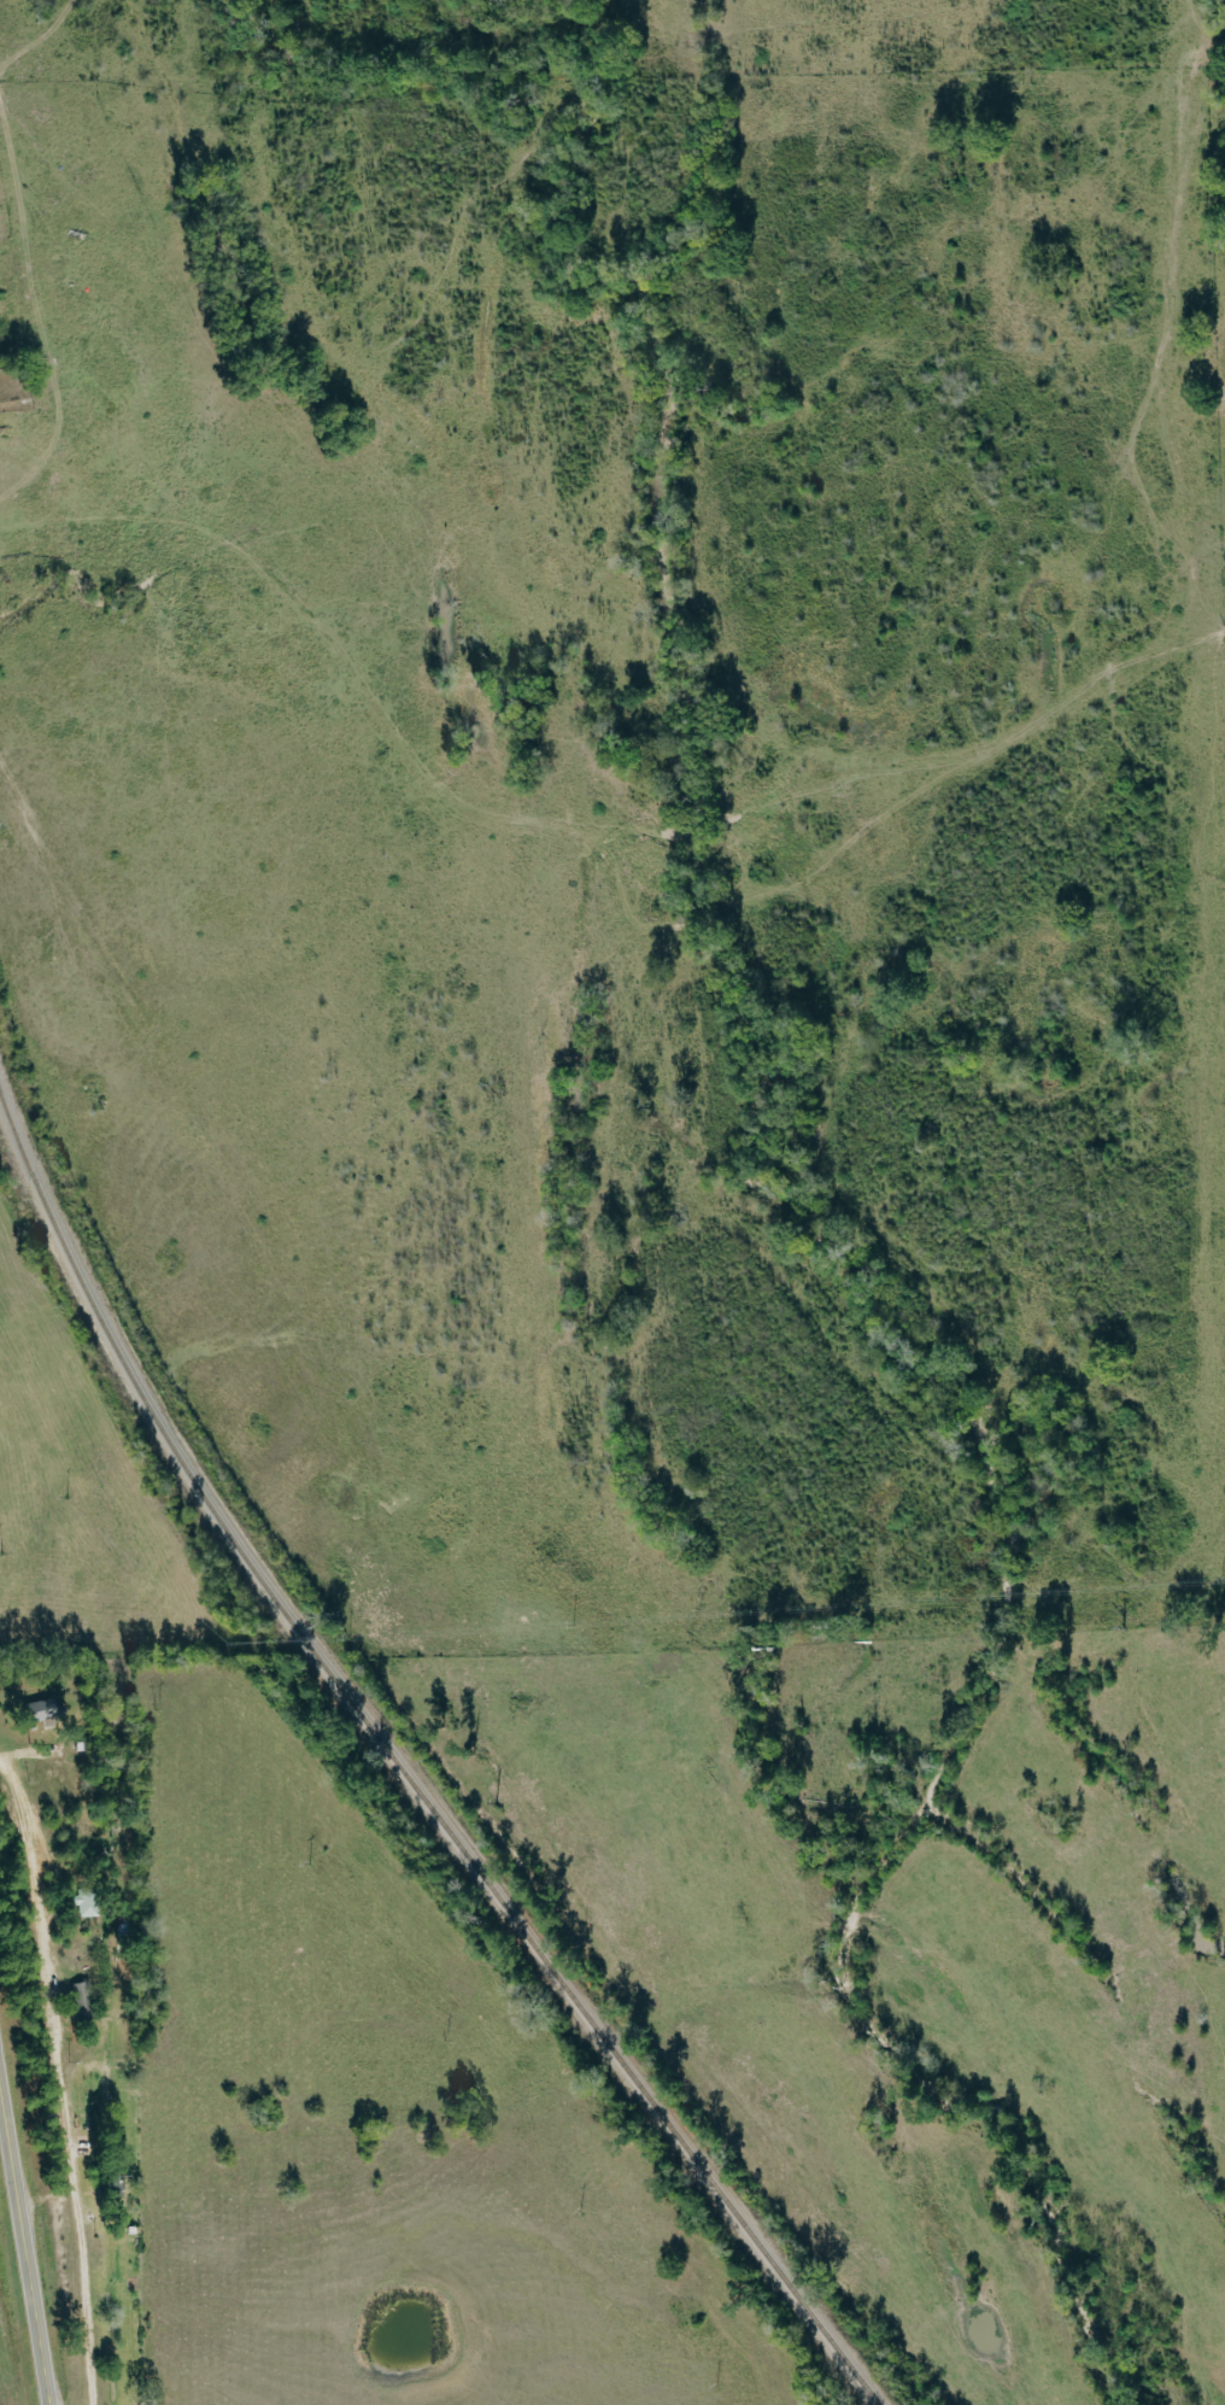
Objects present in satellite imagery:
building: (39, 1709)
railway: (400, 1774)
building: (83, 1903)
building: (80, 1996)
road: (24, 2249)

